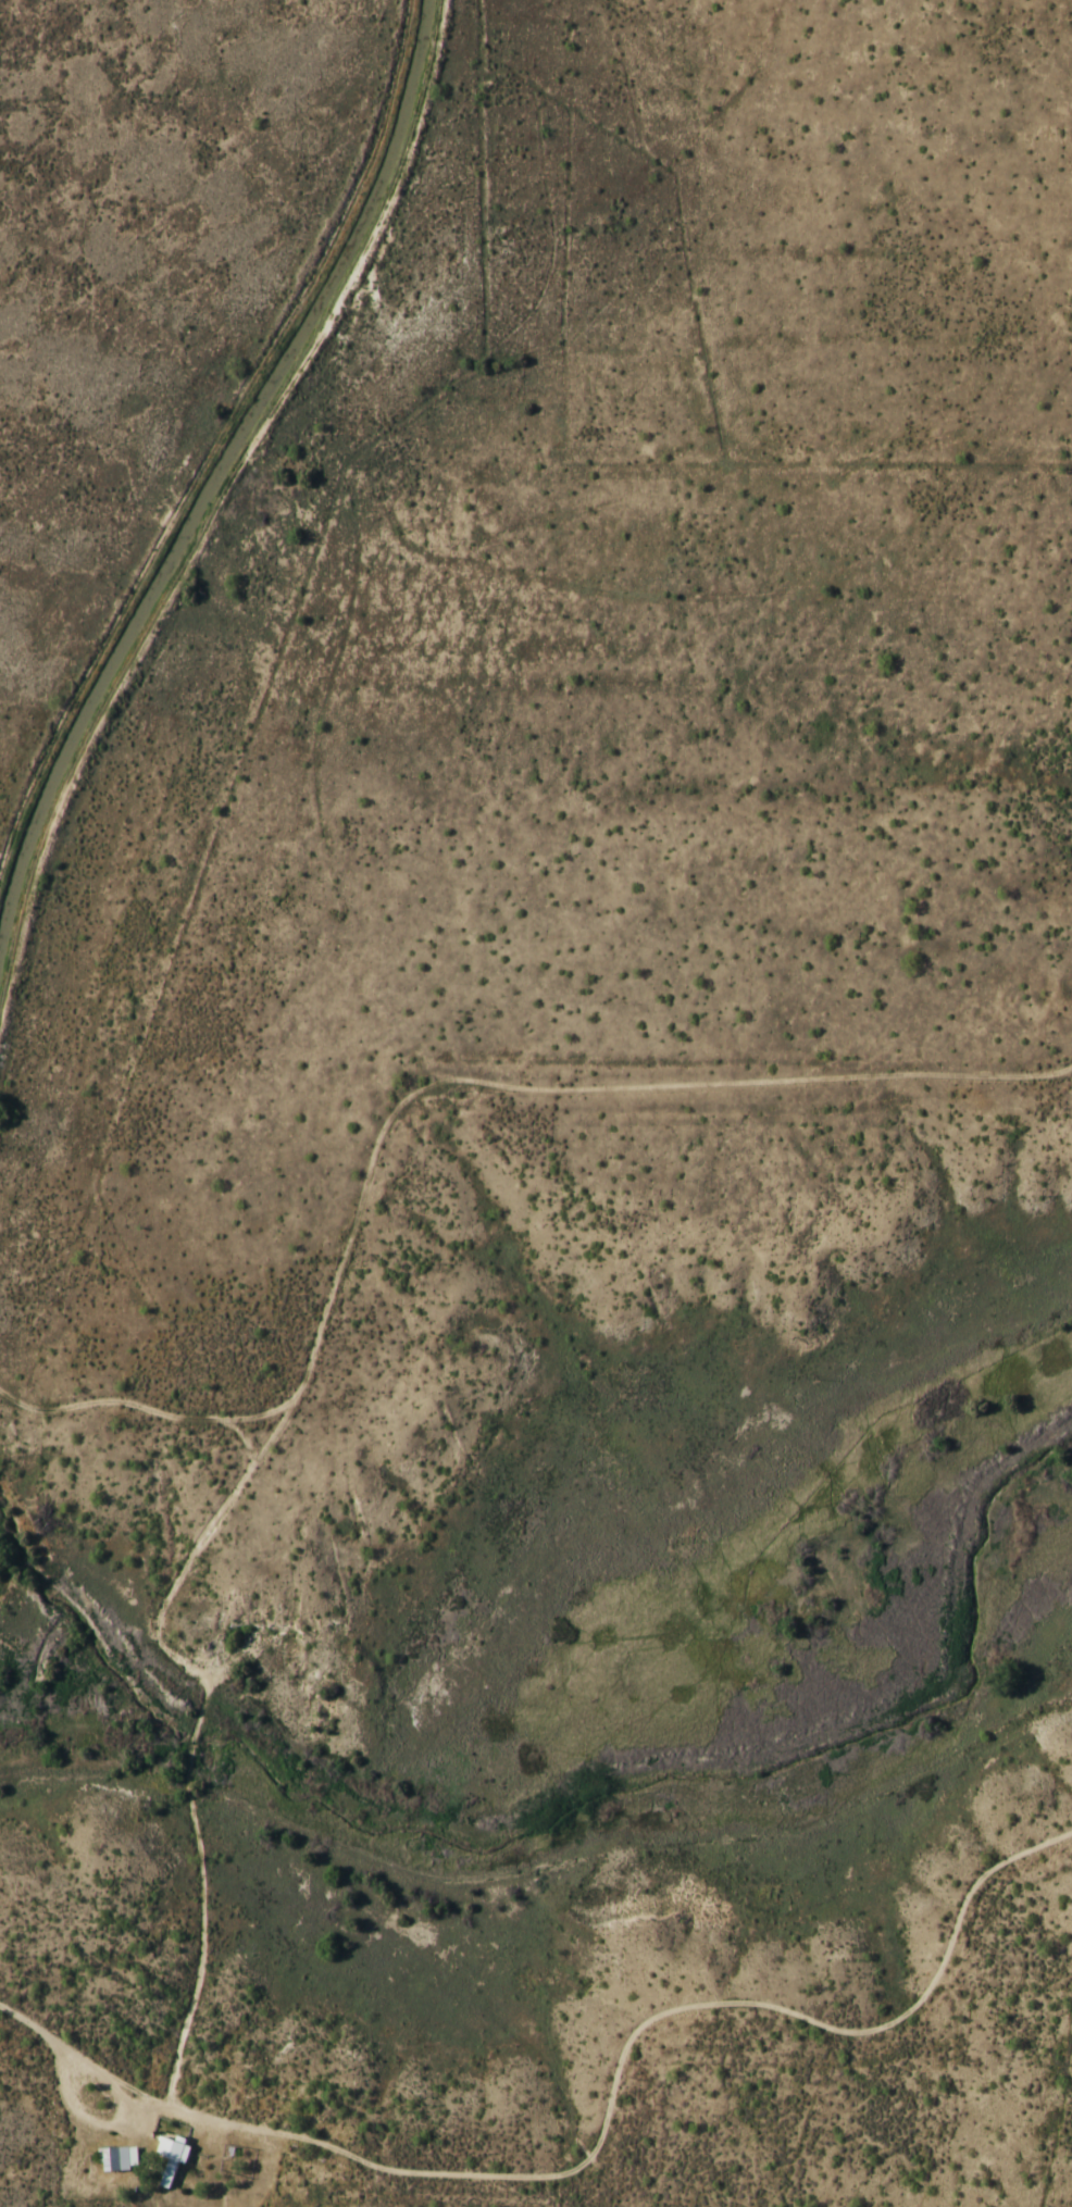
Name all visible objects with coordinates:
road: (604, 2141)
building: (119, 2158)
building: (172, 2158)

